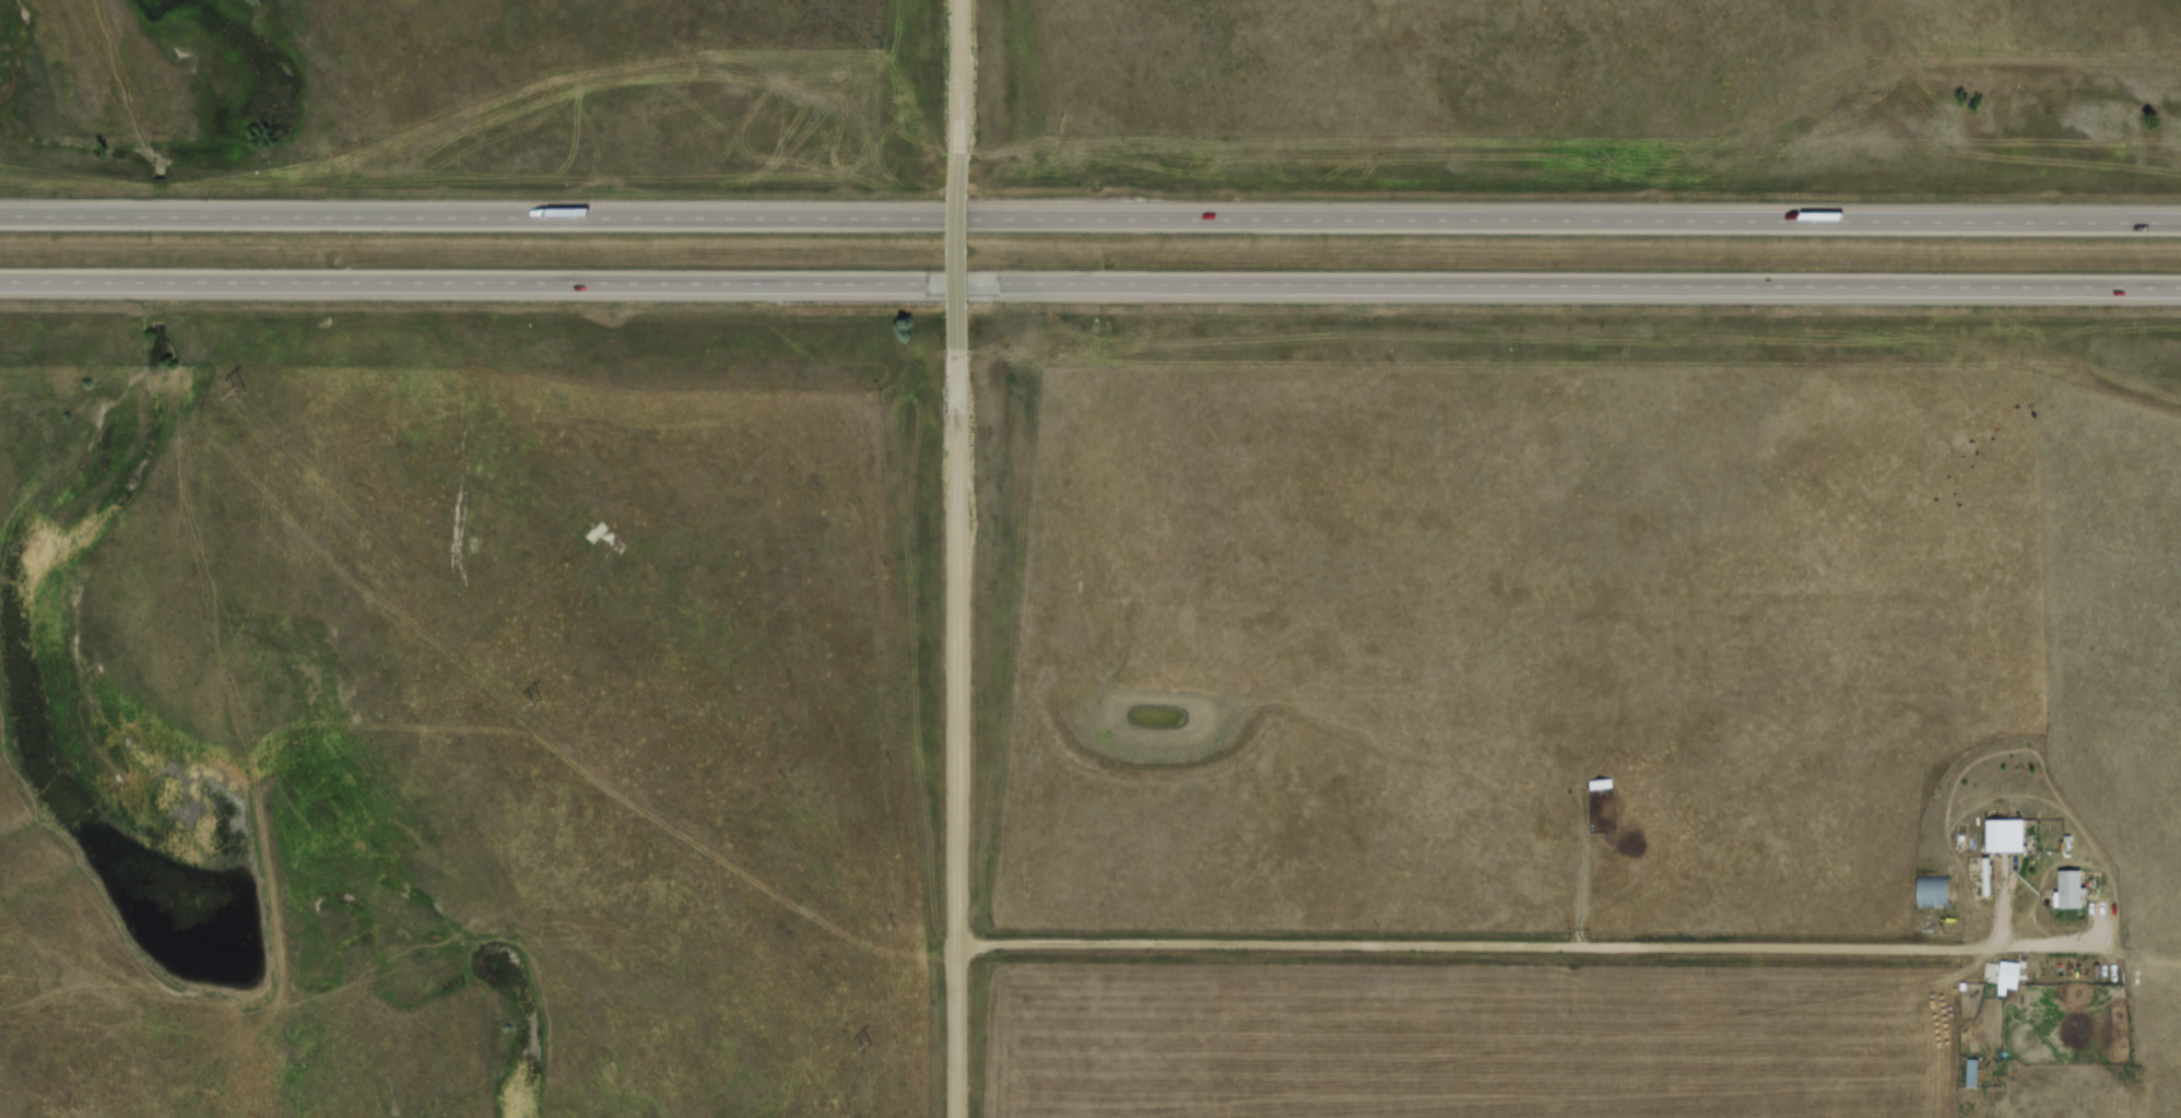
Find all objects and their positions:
road: (963, 75)
road: (1090, 217)
road: (962, 249)
road: (1090, 282)
power tower: (239, 393)
power tower: (534, 703)
road: (958, 733)
building: (1601, 784)
building: (1996, 828)
building: (1926, 884)
building: (2072, 888)
building: (1989, 973)
building: (2009, 974)
power tower: (864, 1047)
building: (1965, 1068)
building: (1972, 1072)

